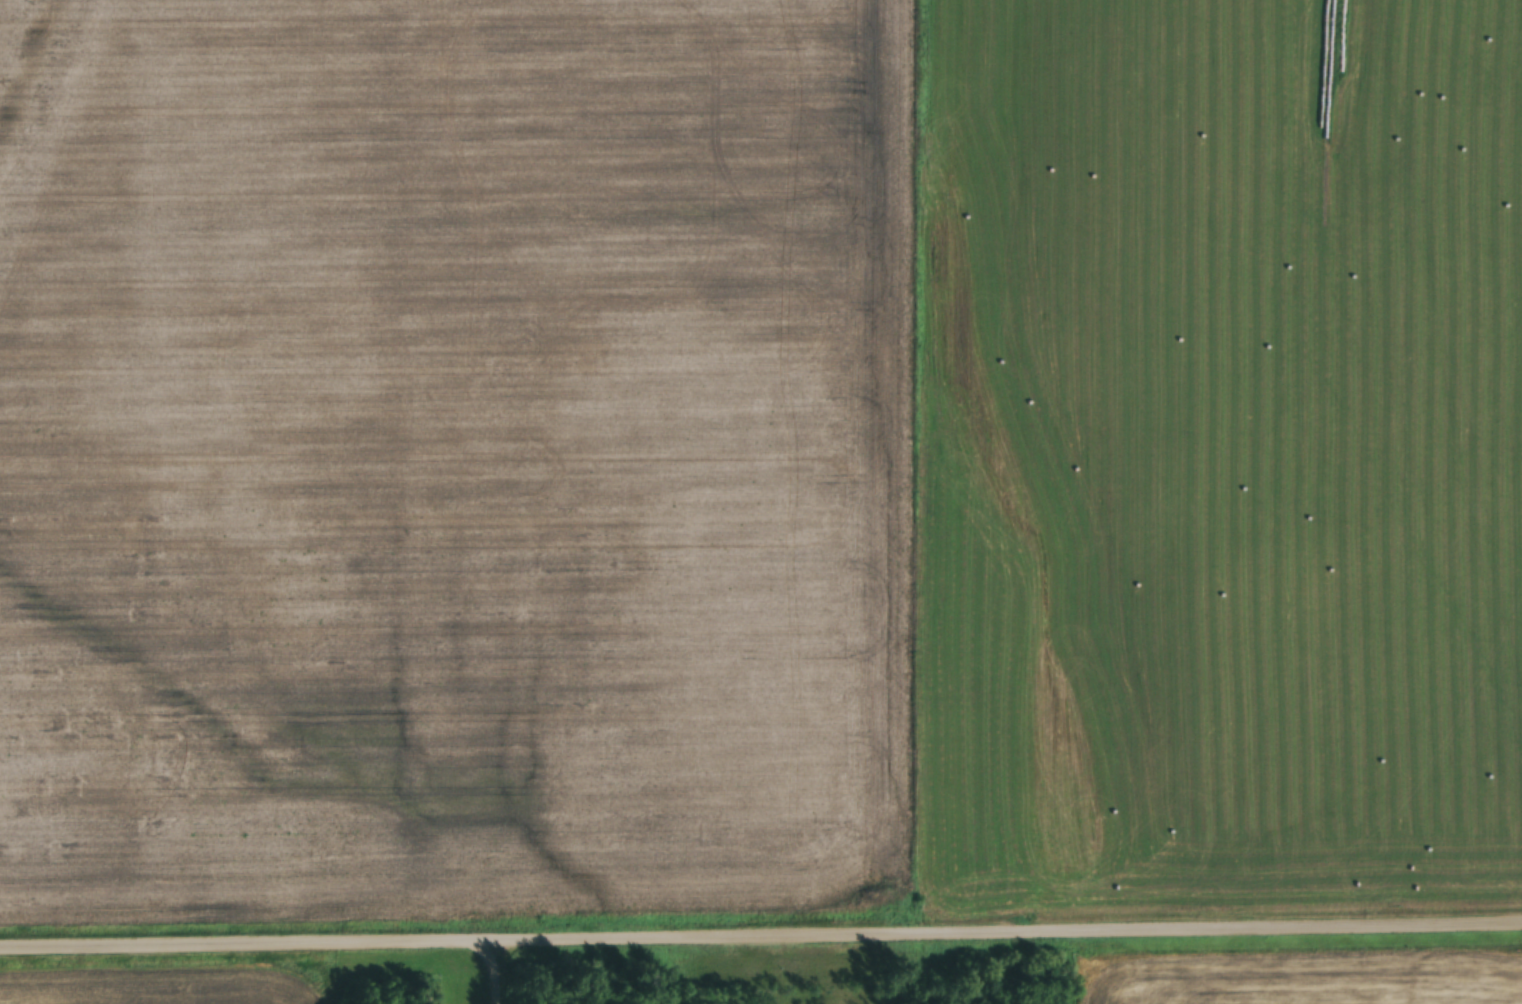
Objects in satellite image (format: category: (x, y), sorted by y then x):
road: (761, 942)

